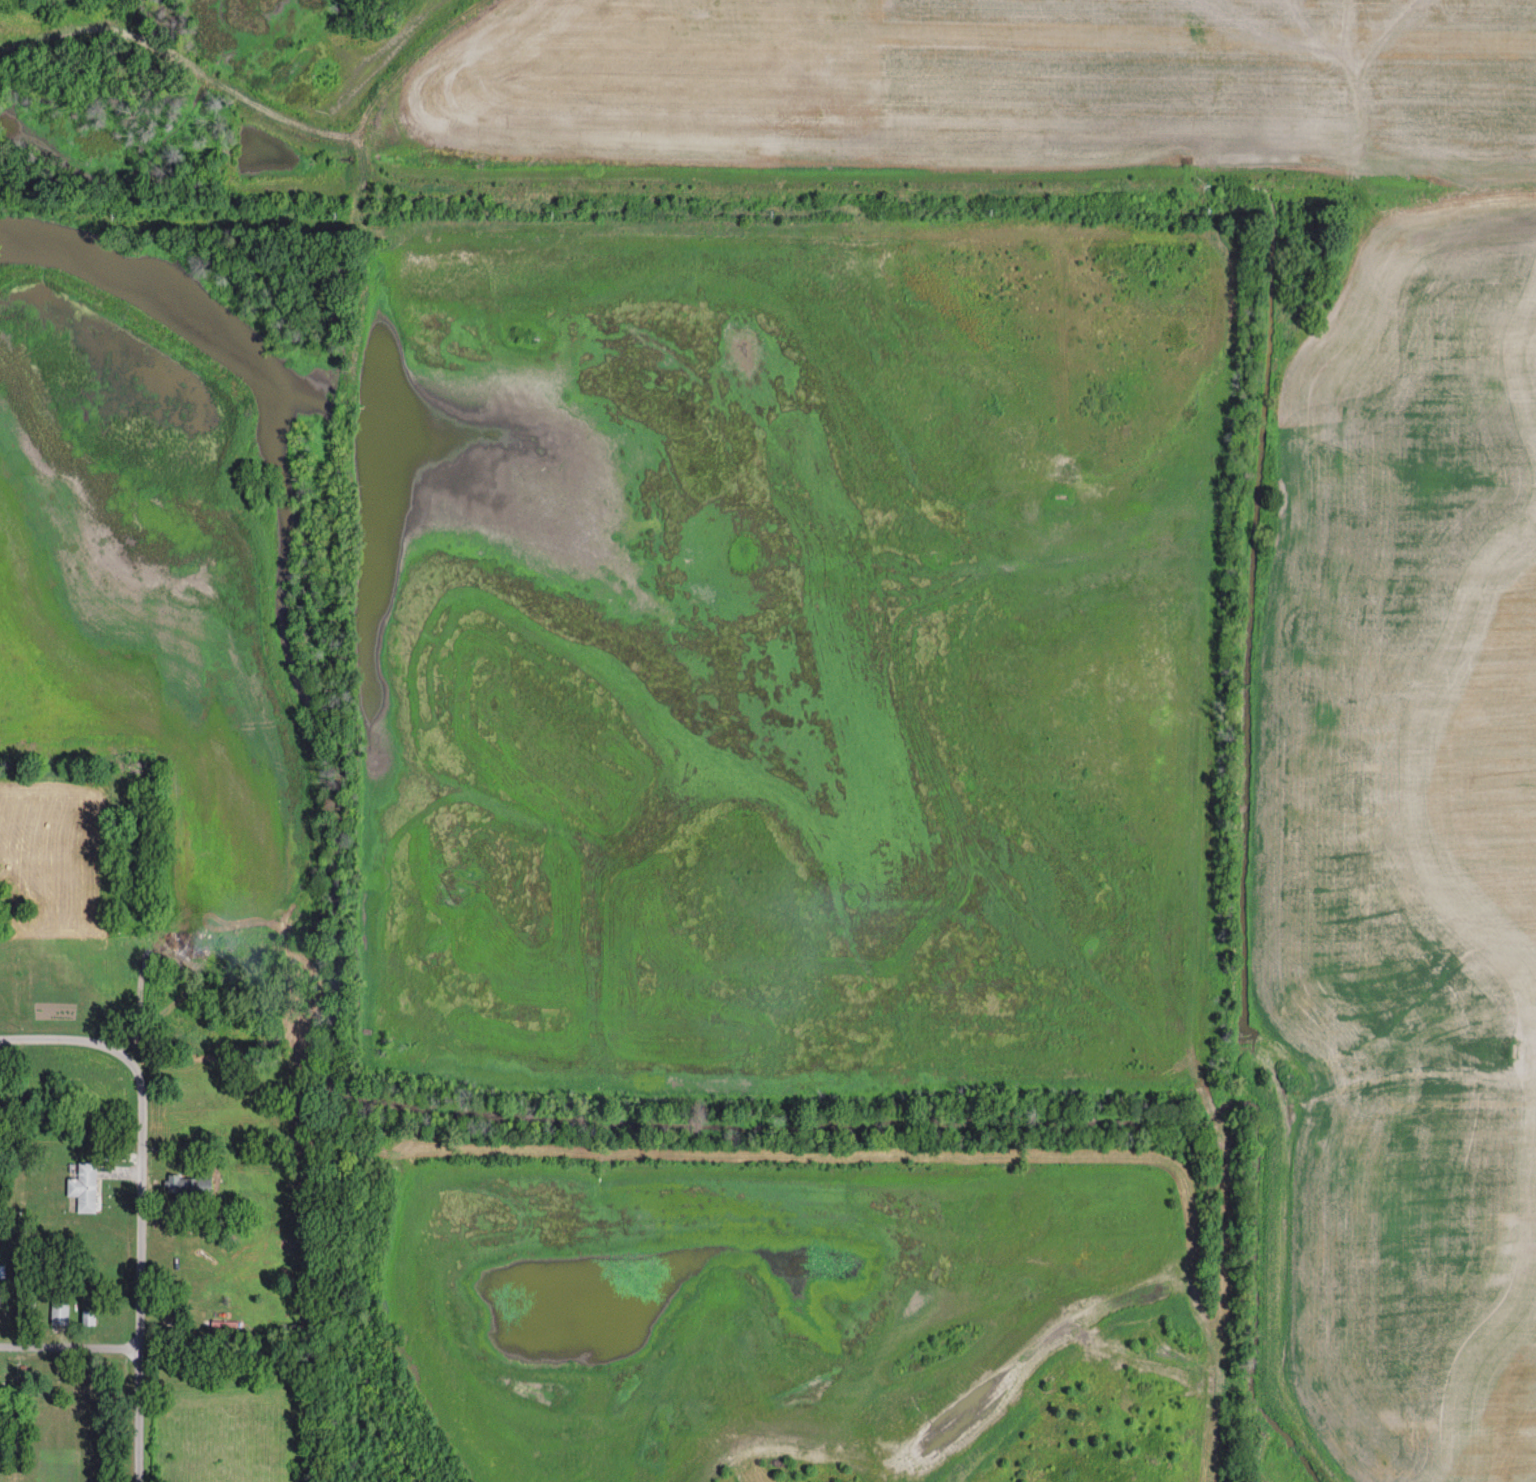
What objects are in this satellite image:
park: (9, 2)
road: (131, 32)
road: (70, 1038)
building: (56, 1095)
building: (190, 1185)
building: (85, 1187)
road: (137, 1273)
building: (59, 1313)
building: (88, 1318)
road: (68, 1346)
road: (1220, 1367)

